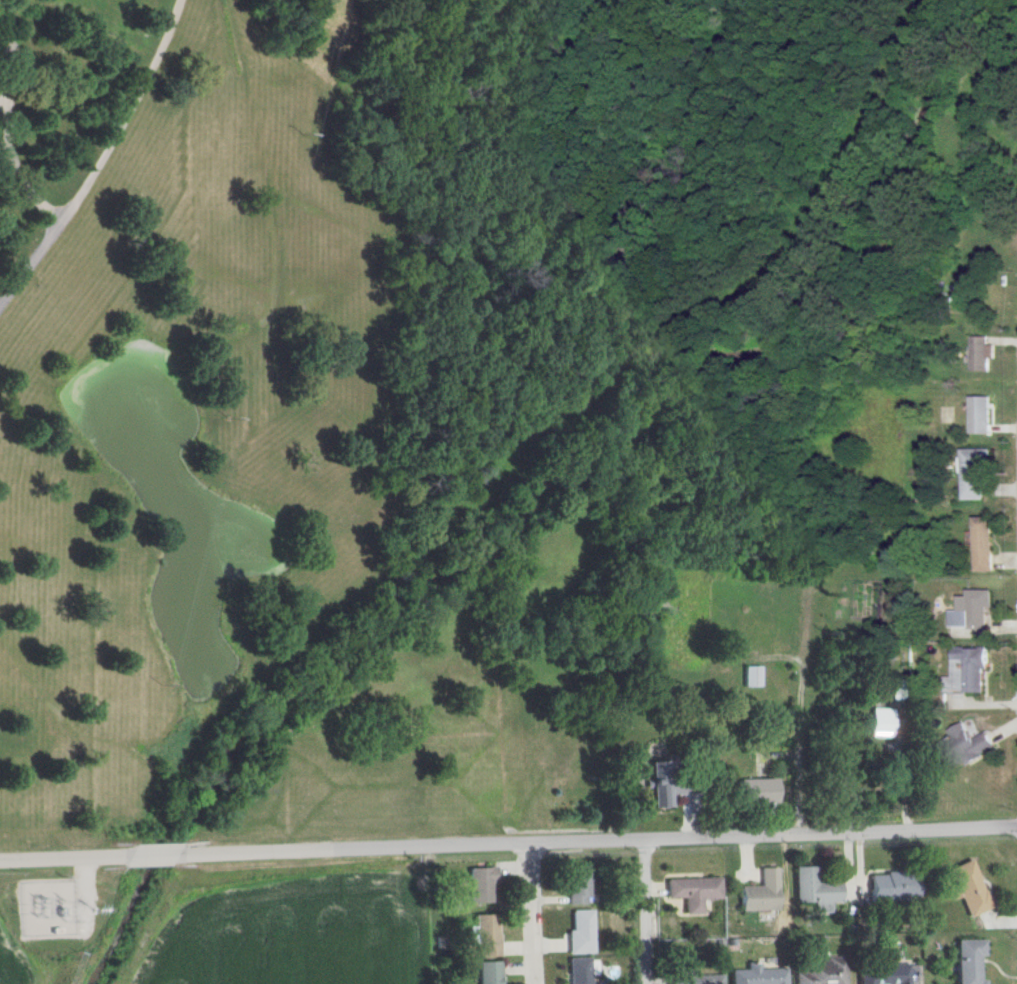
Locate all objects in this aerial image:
road: (101, 159)
building: (979, 353)
building: (978, 415)
building: (972, 474)
building: (981, 544)
building: (976, 609)
building: (965, 671)
building: (753, 677)
building: (881, 723)
building: (966, 746)
building: (562, 755)
building: (665, 788)
building: (752, 791)
road: (508, 843)
building: (580, 883)
building: (480, 886)
building: (968, 888)
building: (892, 889)
building: (813, 890)
building: (691, 892)
building: (759, 893)
road: (646, 911)
road: (532, 913)
building: (581, 932)
crop: (291, 934)
building: (485, 936)
building: (968, 962)
crop: (26, 967)
building: (821, 968)
building: (581, 971)
building: (488, 973)
building: (883, 974)
building: (758, 975)
building: (694, 980)

